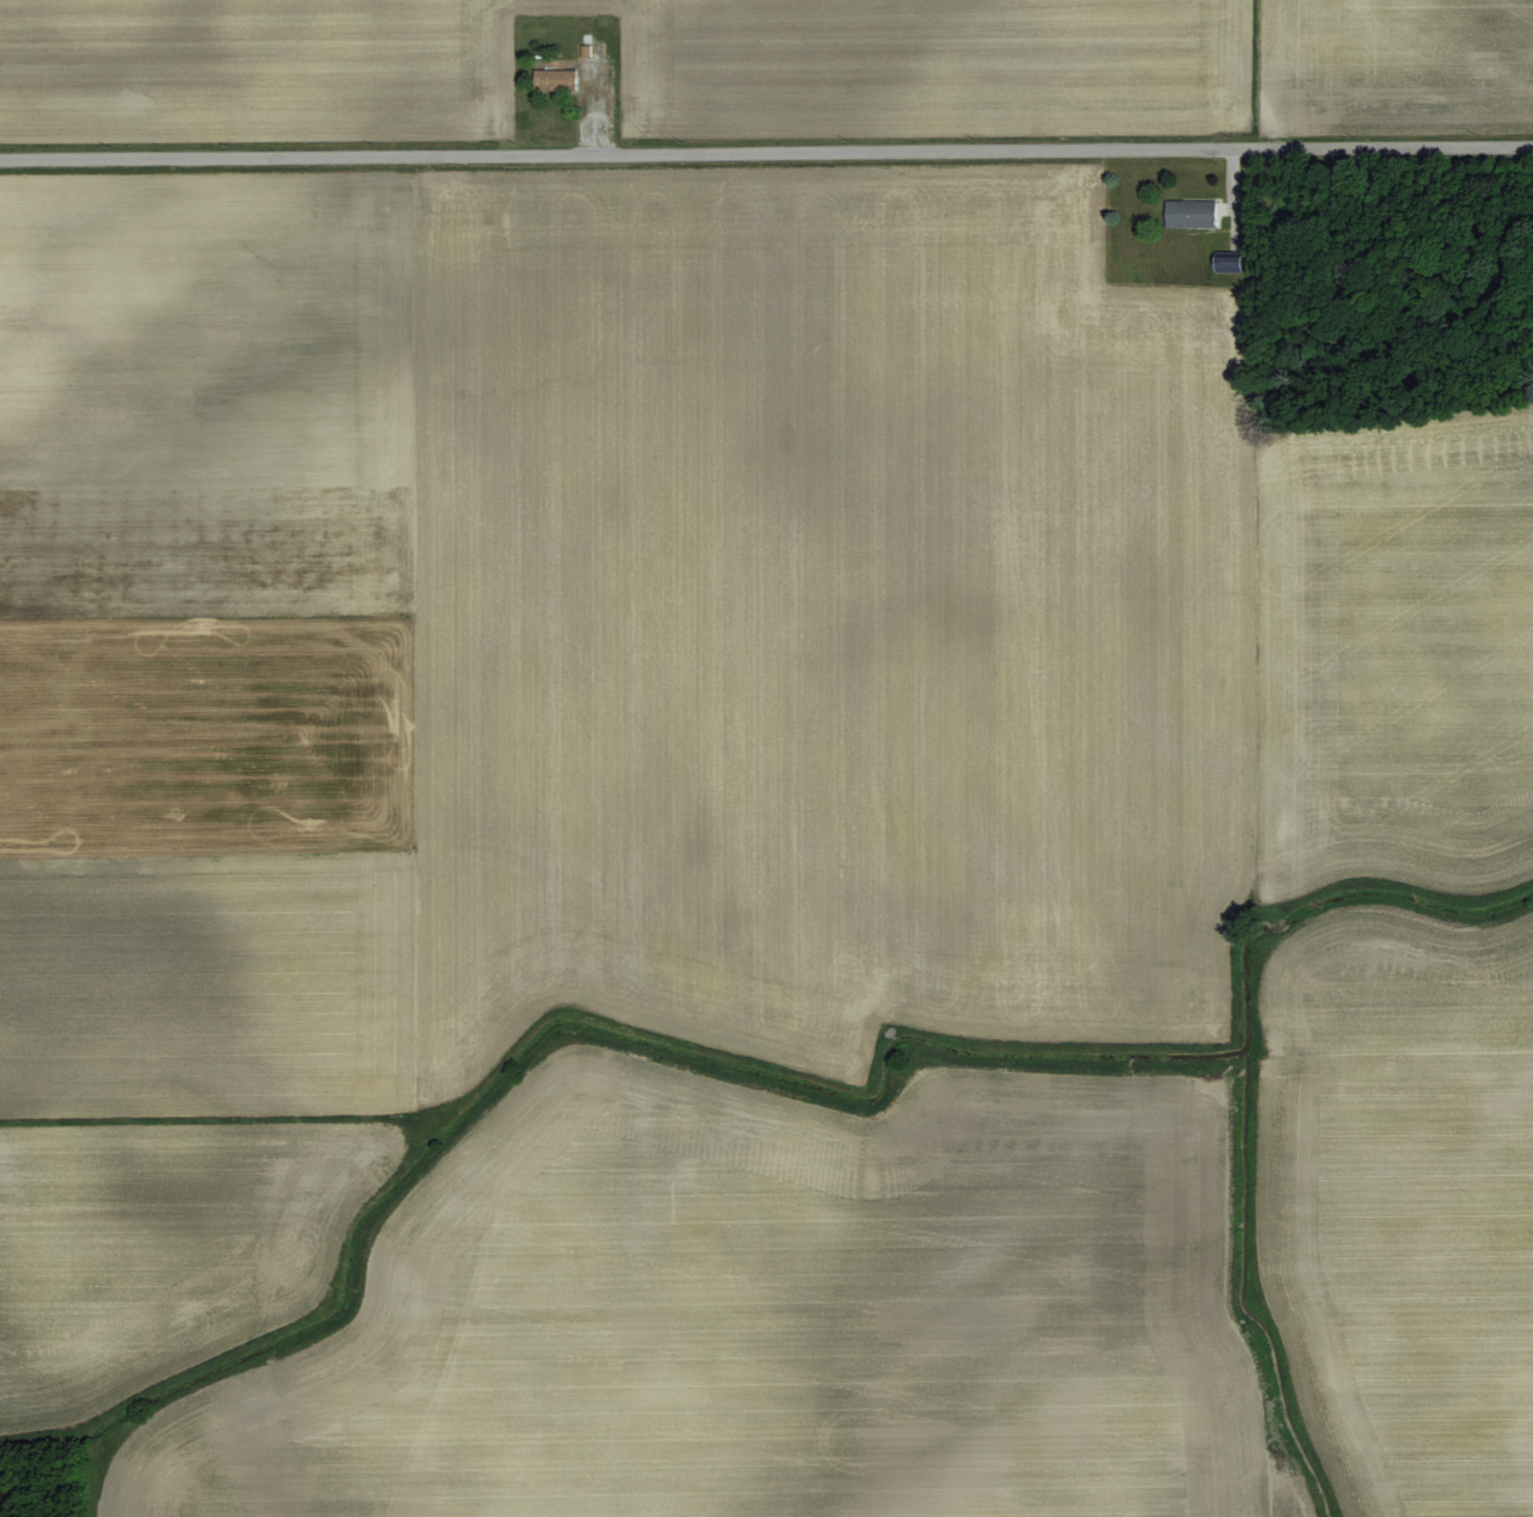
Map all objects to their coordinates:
building: (552, 77)
road: (766, 151)

